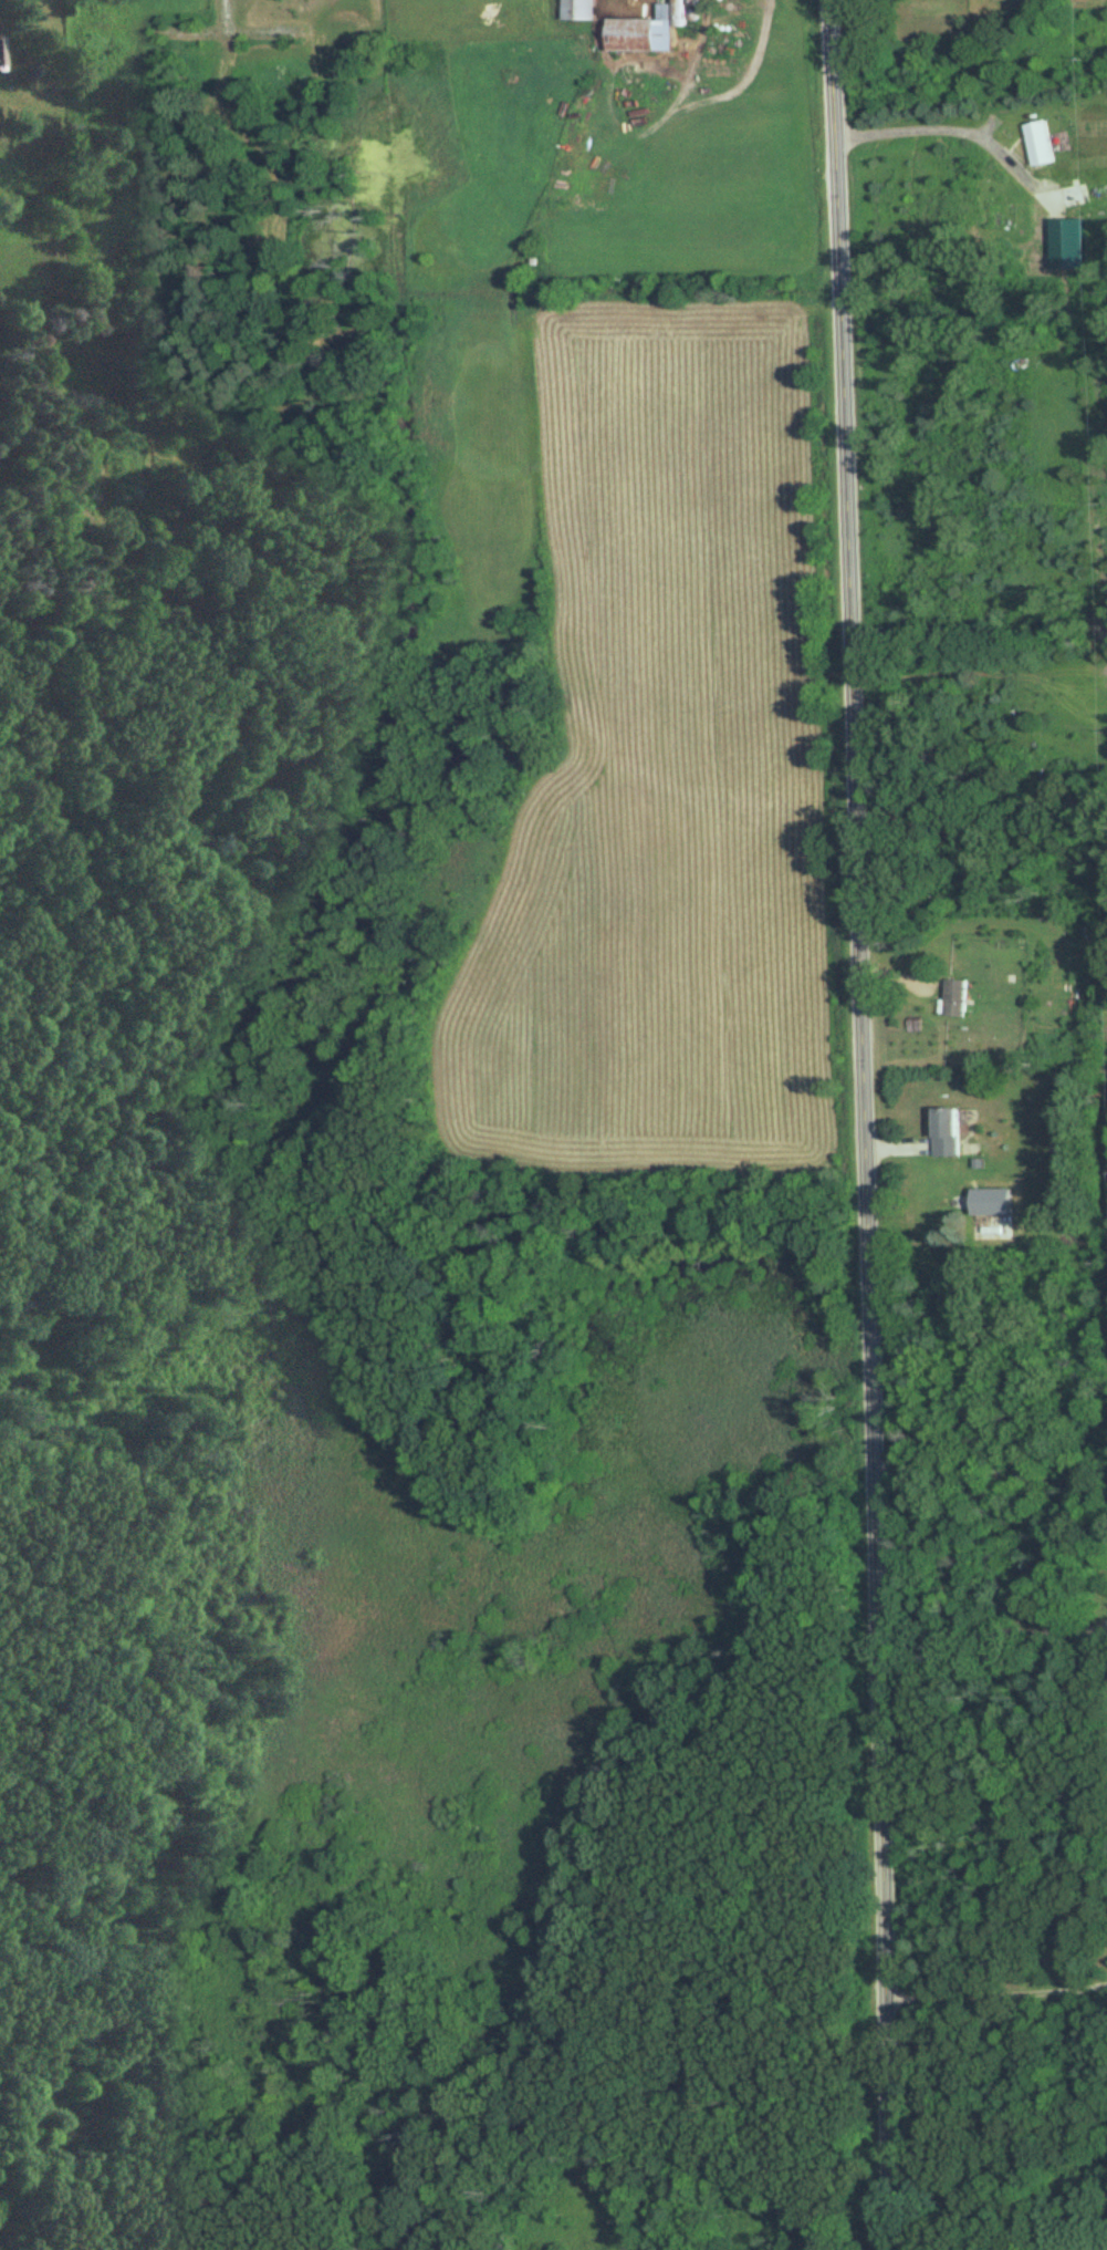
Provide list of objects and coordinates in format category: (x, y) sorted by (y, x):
building: (577, 10)
building: (644, 30)
building: (2, 54)
building: (1038, 143)
road: (936, 147)
building: (1071, 196)
building: (1065, 245)
building: (954, 998)
road: (856, 1124)
building: (944, 1131)
building: (990, 1226)
road: (989, 1636)
road: (993, 2013)
road: (1103, 2249)

